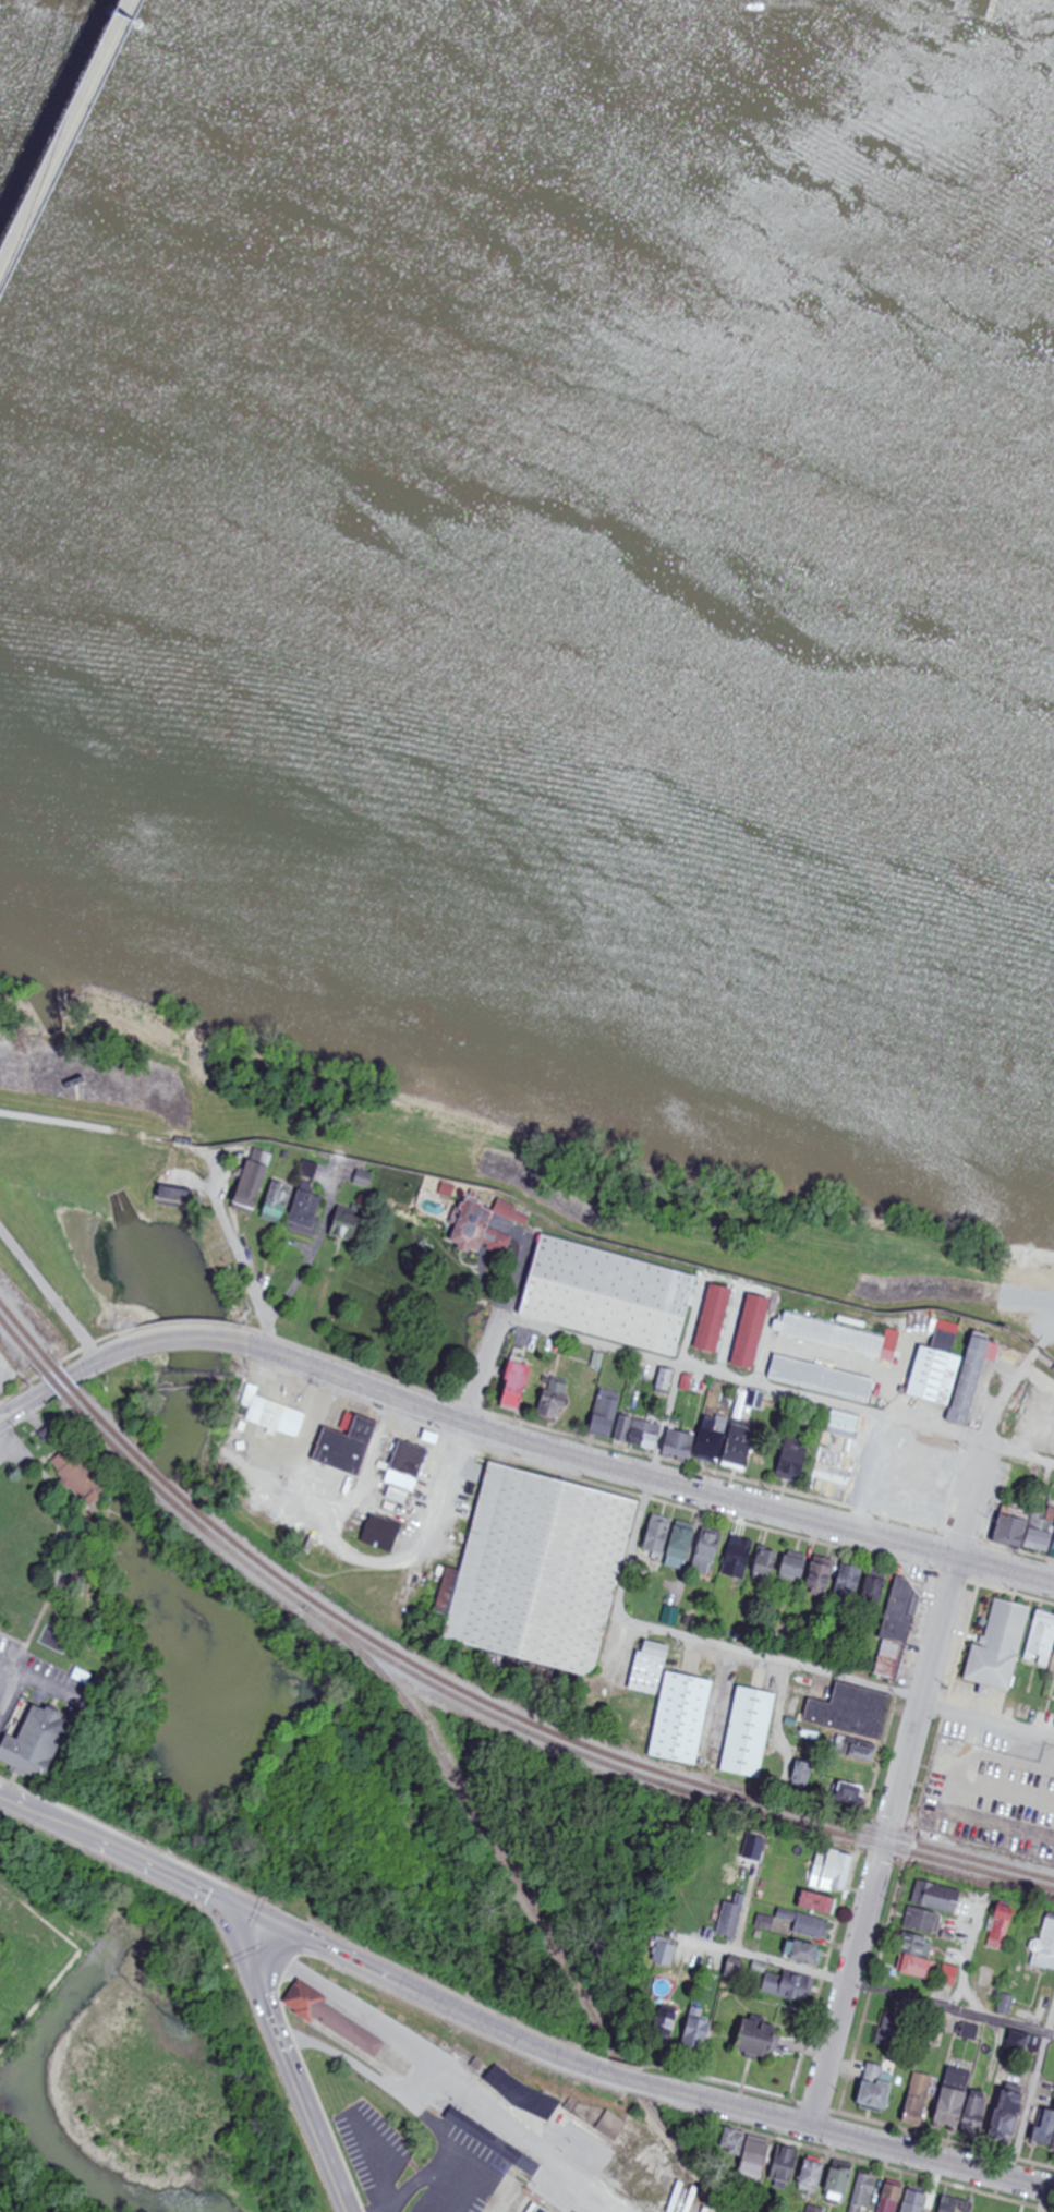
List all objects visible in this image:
road: (66, 138)
river: (526, 486)
road: (239, 1258)
road: (523, 1282)
road: (50, 1295)
building: (610, 1296)
building: (717, 1319)
railway: (24, 1329)
building: (843, 1337)
road: (194, 1338)
railway: (20, 1341)
road: (121, 1352)
road: (483, 1364)
railway: (62, 1375)
building: (826, 1380)
railway: (54, 1382)
road: (57, 1387)
road: (783, 1392)
road: (7, 1413)
road: (7, 1417)
railway: (112, 1428)
railway: (105, 1435)
road: (7, 1448)
railway: (161, 1476)
road: (645, 1476)
building: (921, 1477)
railway: (153, 1484)
road: (646, 1492)
road: (60, 1538)
park: (49, 1542)
building: (75, 1545)
building: (541, 1573)
road: (14, 1641)
road: (19, 1656)
road: (4, 1663)
road: (4, 1673)
road: (836, 1677)
road: (43, 1681)
building: (682, 1718)
building: (751, 1730)
road: (913, 1731)
building: (38, 1741)
railway: (585, 1746)
railway: (581, 1756)
road: (14, 1802)
road: (64, 1826)
road: (179, 1879)
railway: (523, 1903)
traffic signals: (261, 1918)
road: (323, 1947)
road: (847, 1982)
road: (265, 1983)
building: (332, 2015)
road: (492, 2026)
road: (625, 2078)
road: (1031, 2094)
road: (319, 2129)
road: (851, 2140)
building: (534, 2209)

